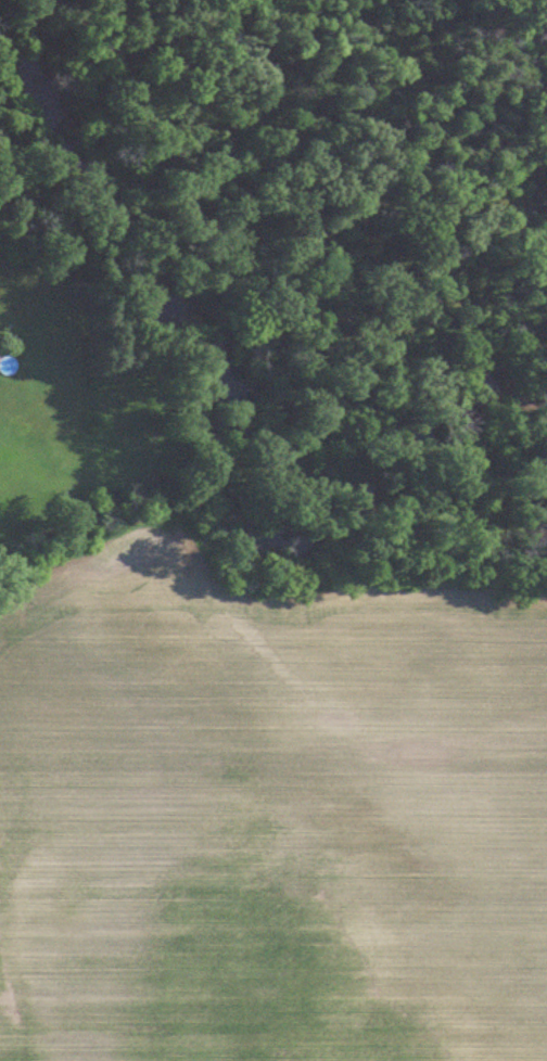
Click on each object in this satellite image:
river: (217, 323)

